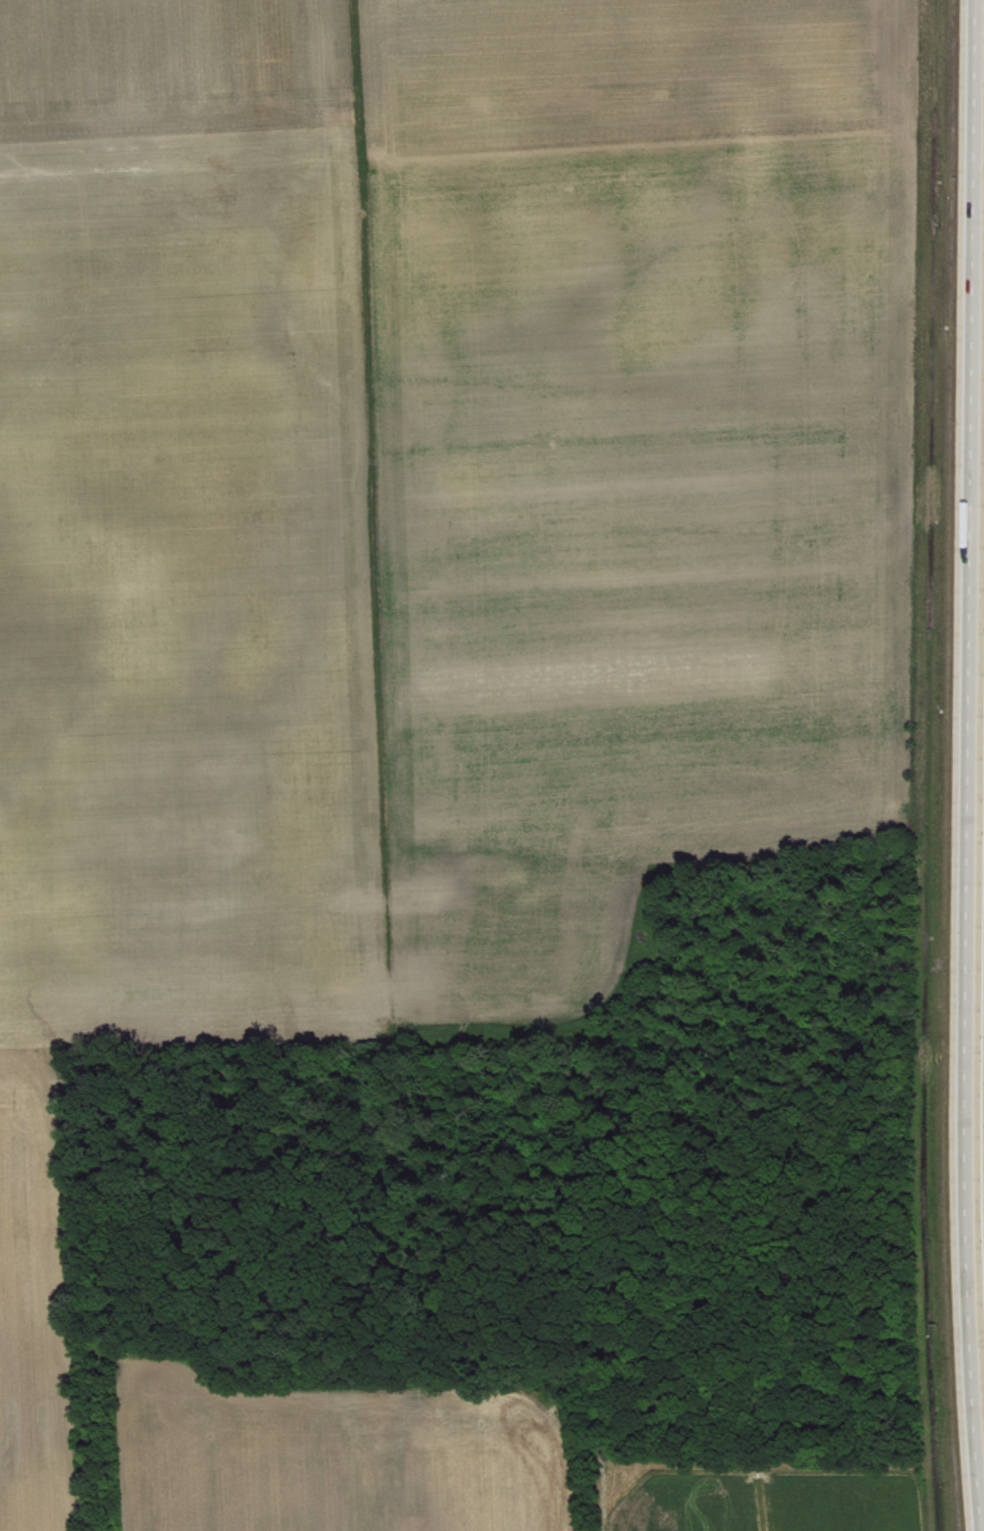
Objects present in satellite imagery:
road: (961, 765)

